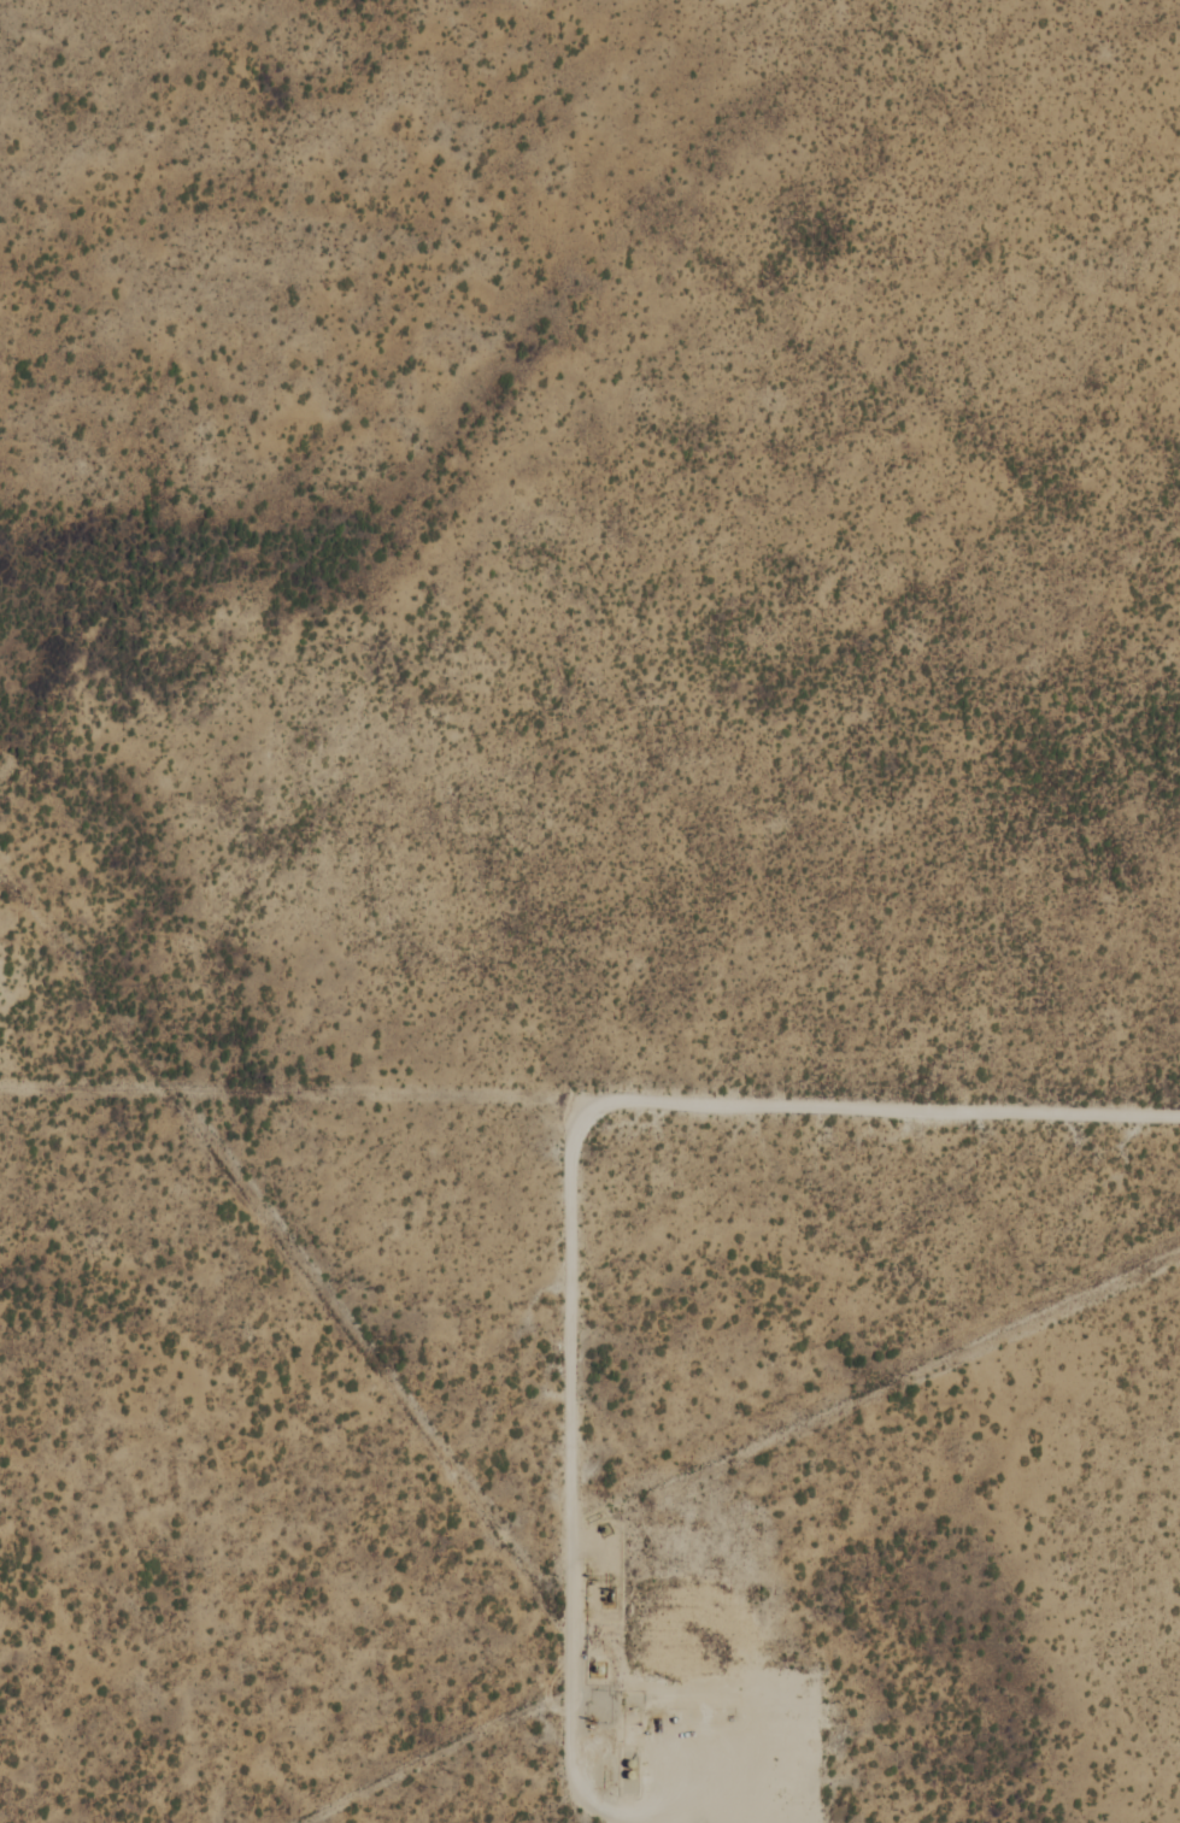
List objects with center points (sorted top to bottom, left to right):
road: (589, 1100)

